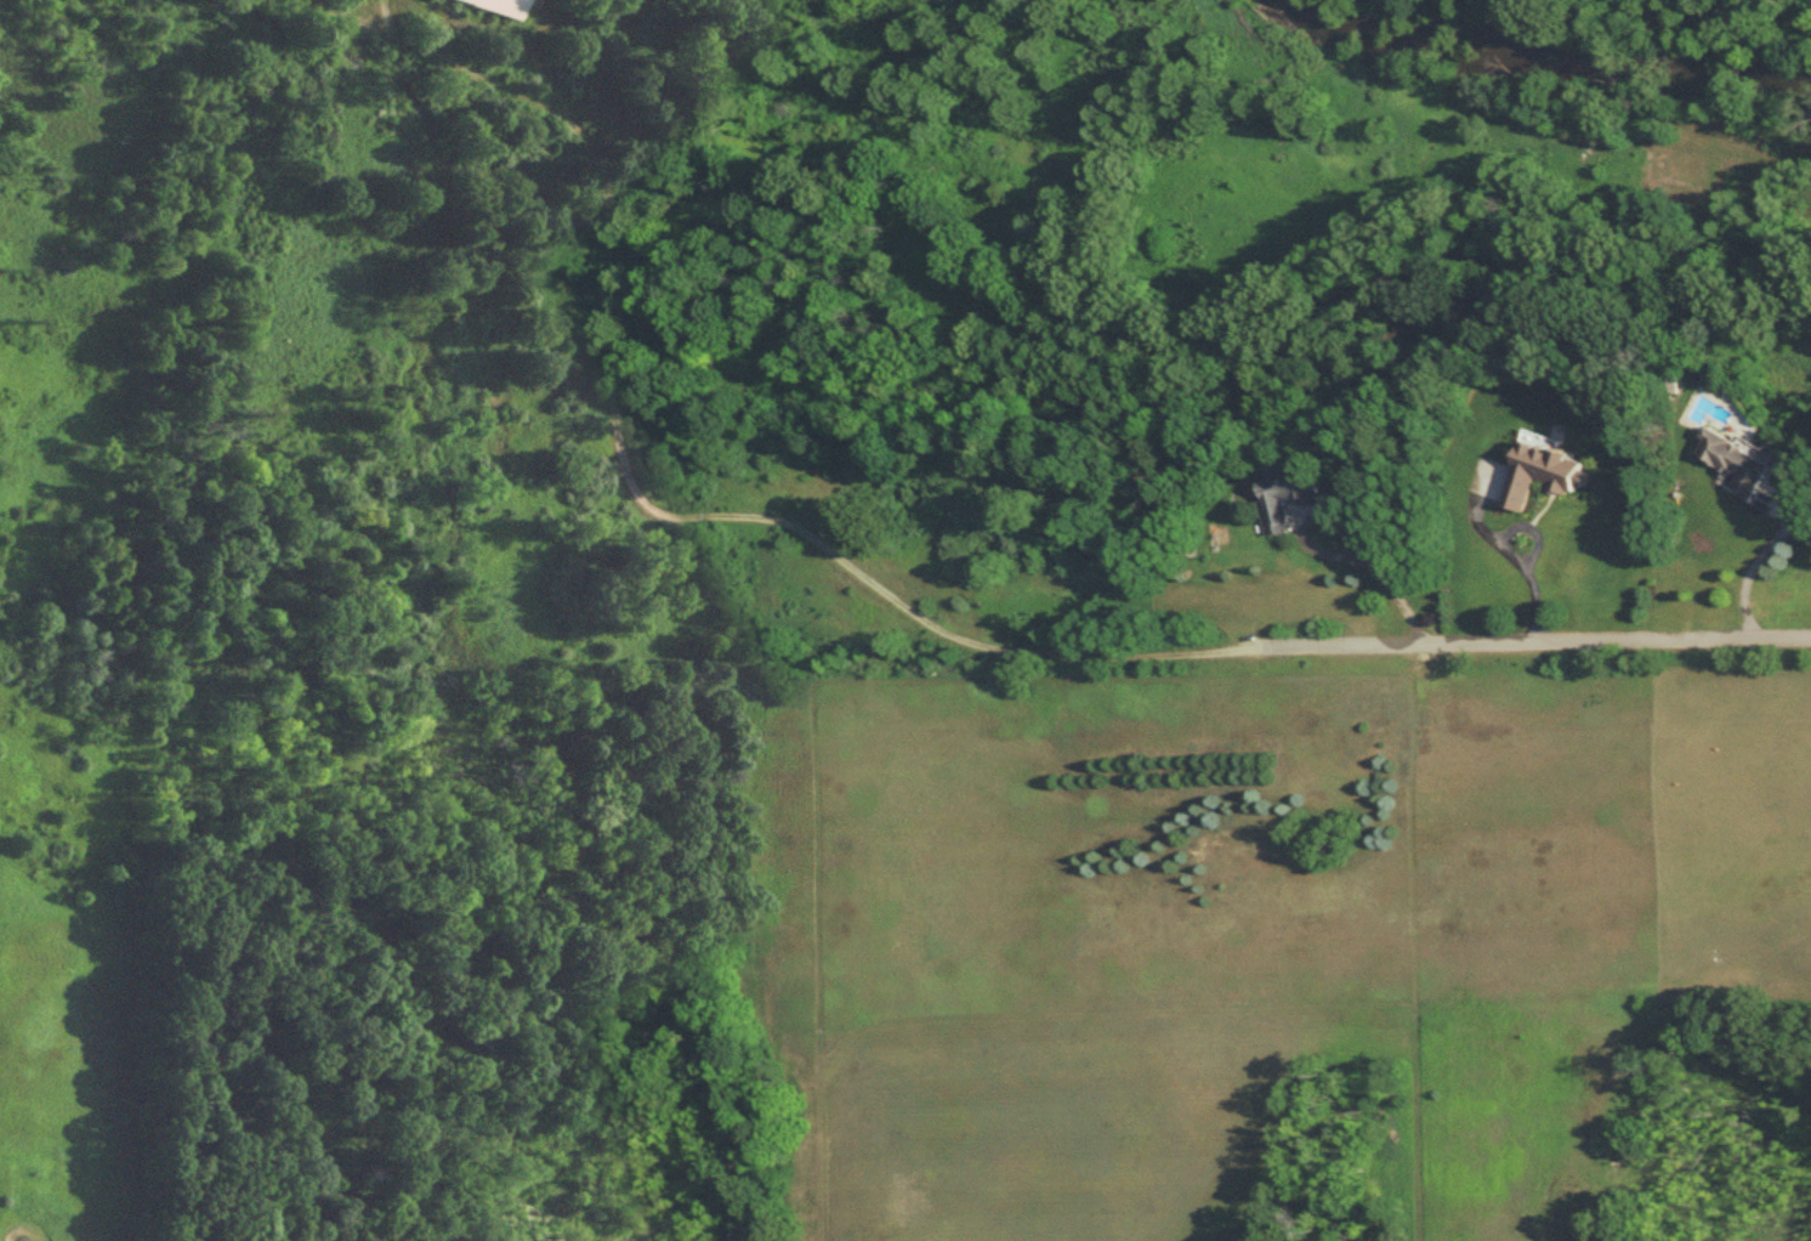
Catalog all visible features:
building: (489, 7)
road: (382, 21)
road: (352, 22)
river: (1559, 56)
building: (1738, 463)
building: (1545, 475)
building: (1288, 493)
road: (1515, 557)
road: (1759, 559)
road: (1370, 563)
road: (915, 617)
road: (21, 1228)

